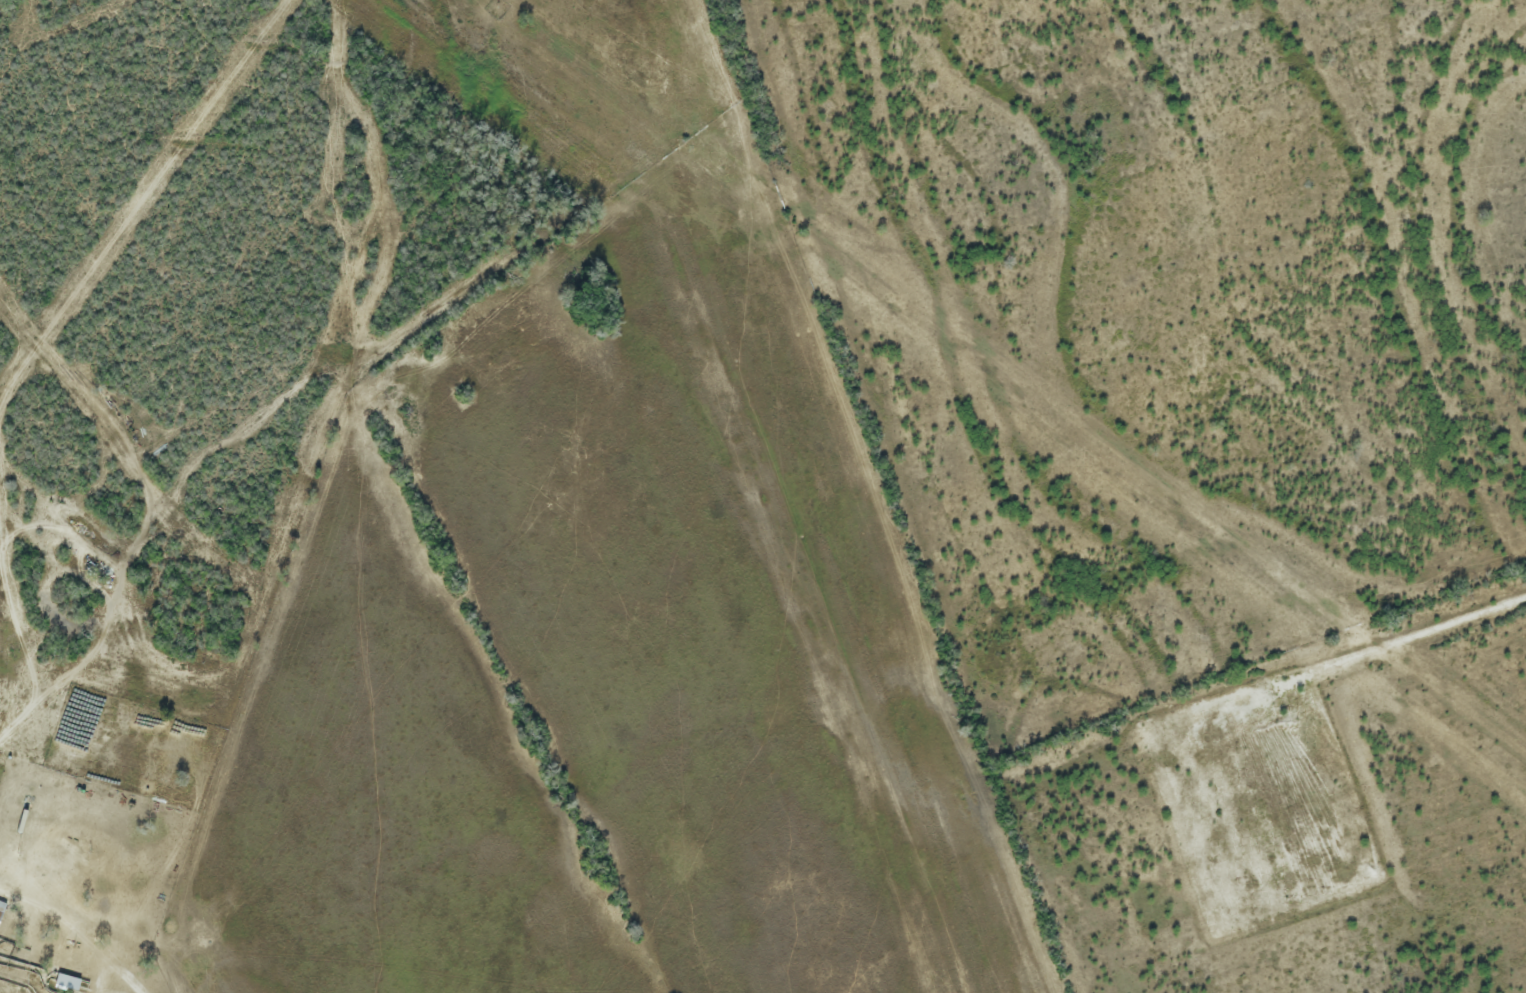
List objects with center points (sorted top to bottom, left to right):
building: (58, 855)
building: (1, 906)
road: (118, 986)
road: (127, 986)

